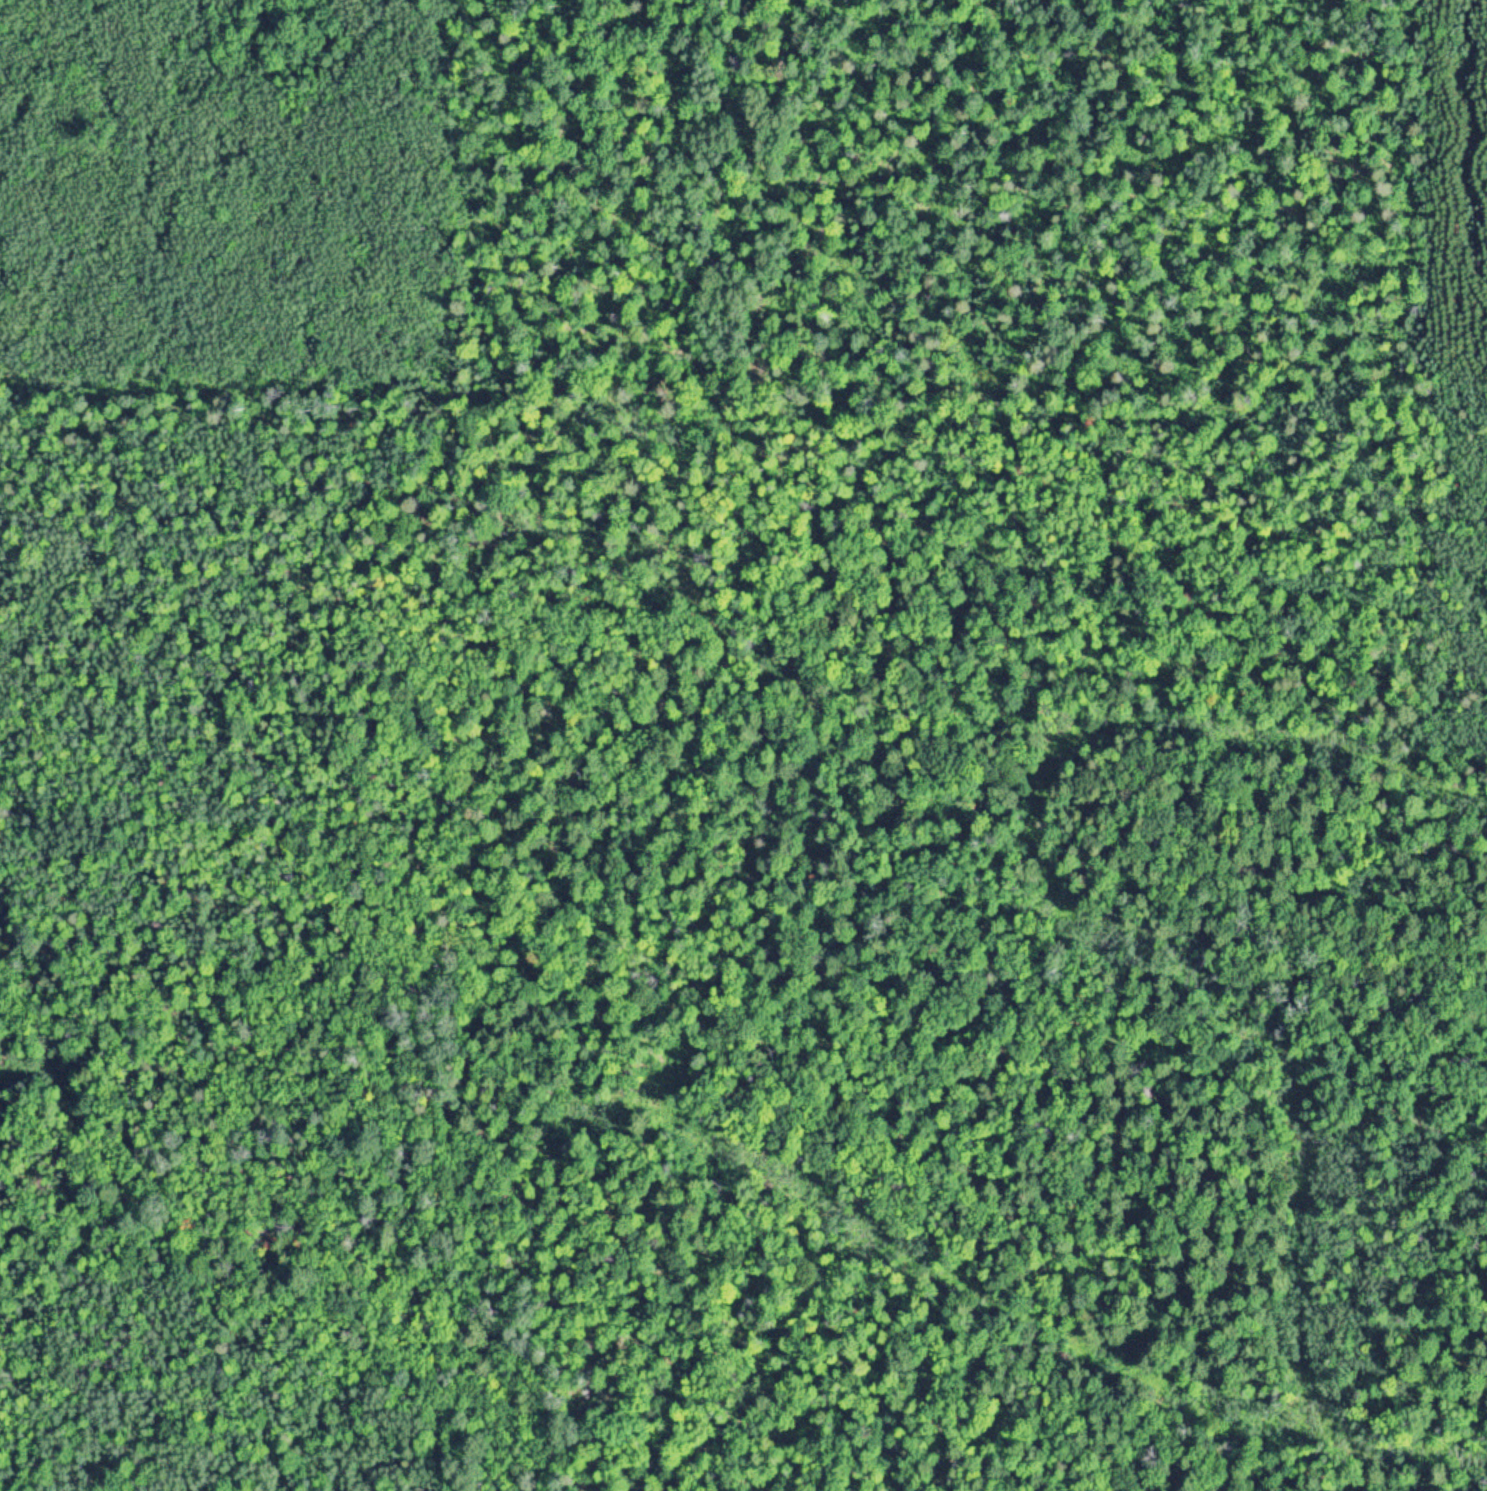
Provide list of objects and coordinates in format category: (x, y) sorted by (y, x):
road: (1147, 957)
road: (973, 1282)

